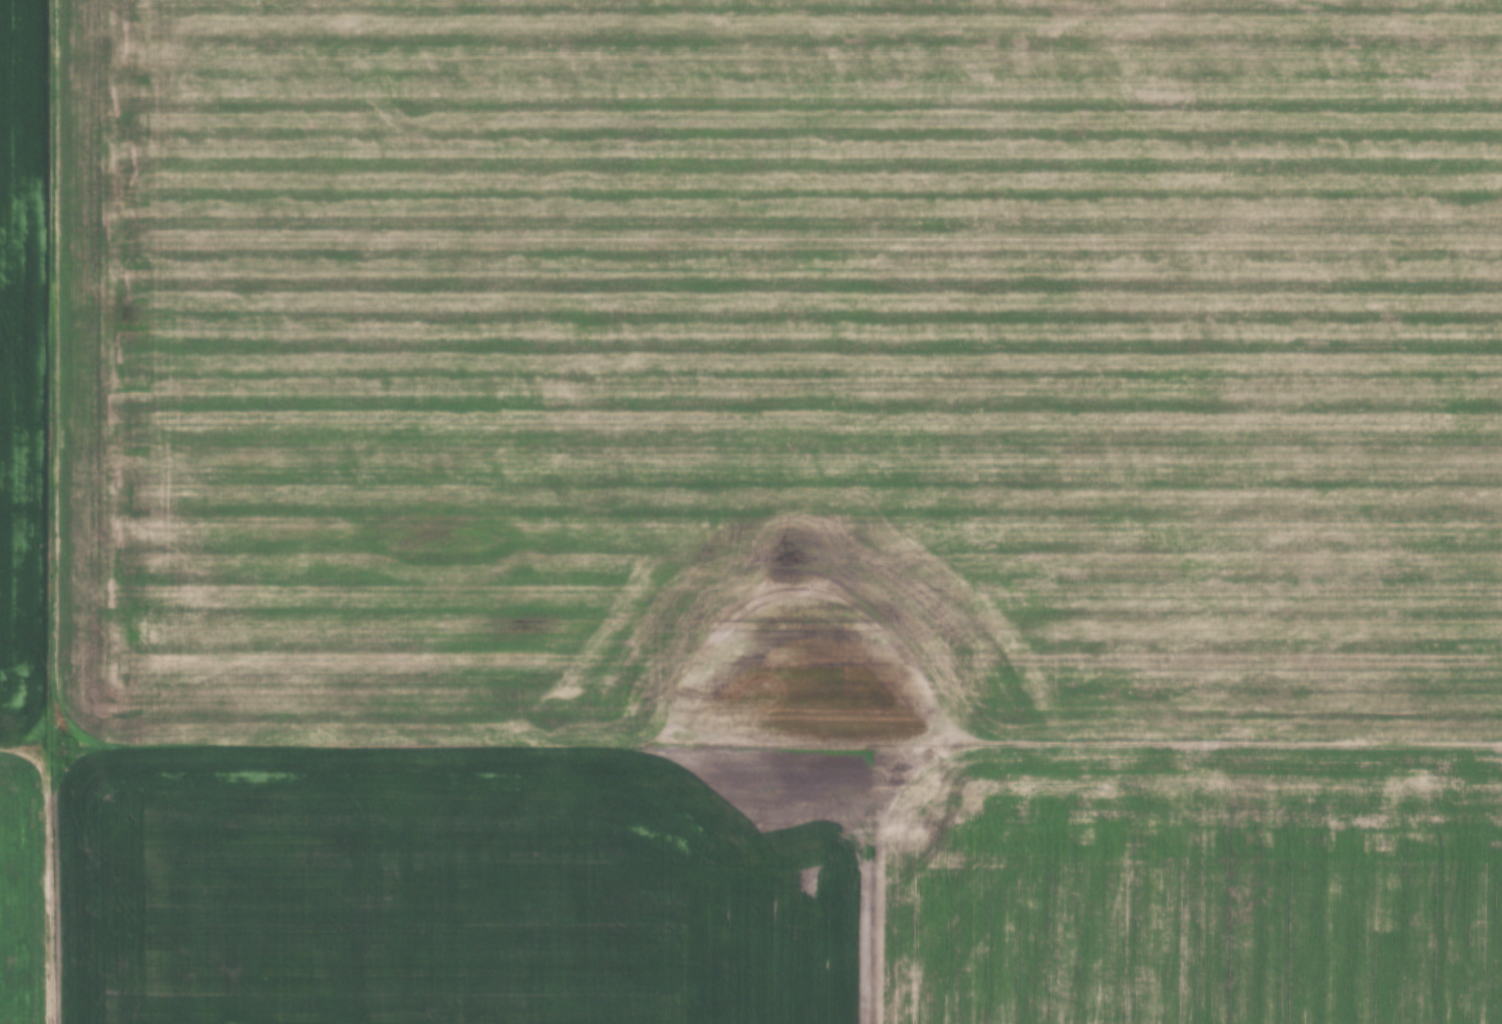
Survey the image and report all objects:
road: (54, 512)

